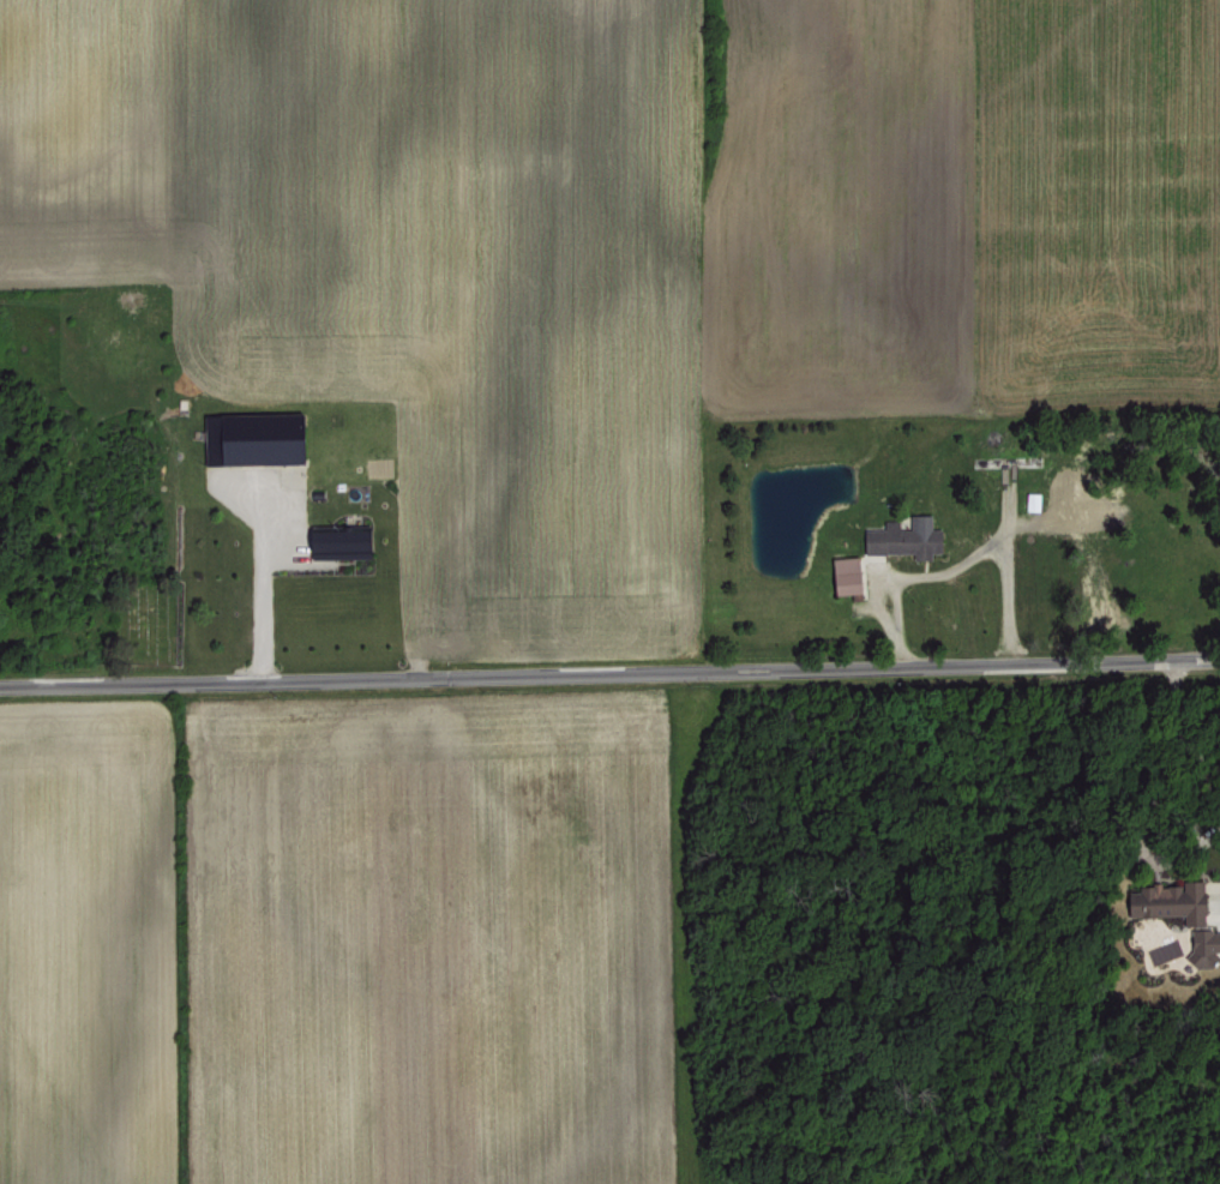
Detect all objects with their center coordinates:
building: (248, 437)
building: (1029, 499)
building: (901, 536)
building: (337, 539)
building: (841, 572)
road: (903, 572)
road: (1006, 576)
road: (260, 603)
road: (609, 667)
building: (1171, 901)

